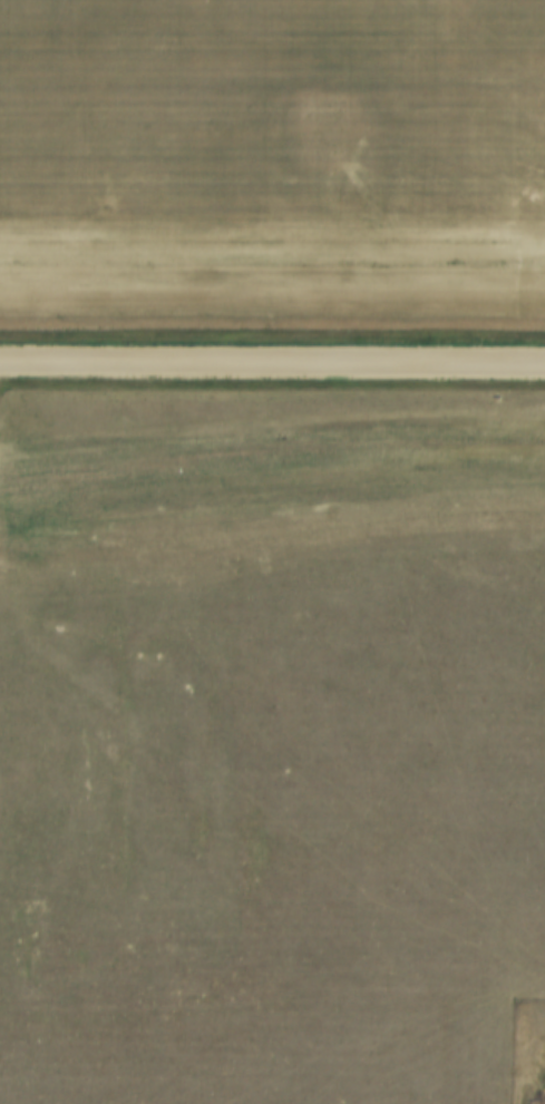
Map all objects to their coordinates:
road: (272, 363)

